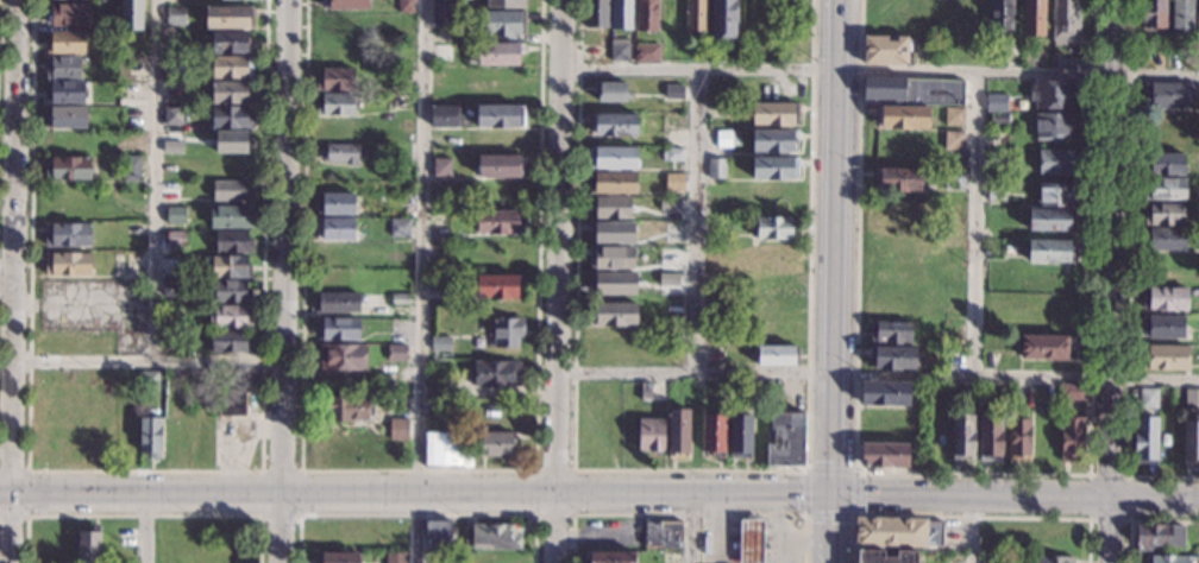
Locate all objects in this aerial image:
building: (108, 1)
building: (504, 4)
building: (344, 5)
building: (404, 6)
building: (68, 14)
building: (131, 14)
building: (441, 14)
building: (596, 14)
building: (621, 14)
building: (1000, 14)
building: (1153, 14)
building: (175, 15)
building: (646, 15)
building: (696, 15)
building: (228, 18)
building: (1032, 18)
building: (1181, 18)
building: (1198, 18)
building: (723, 19)
road: (836, 19)
building: (1063, 21)
building: (501, 23)
building: (338, 26)
building: (64, 43)
building: (232, 43)
building: (619, 50)
building: (884, 50)
building: (442, 52)
building: (498, 52)
building: (1011, 52)
building: (646, 53)
building: (717, 53)
building: (1062, 59)
building: (1085, 62)
building: (172, 65)
building: (62, 68)
building: (136, 68)
building: (232, 68)
road: (879, 71)
building: (335, 80)
building: (441, 81)
building: (498, 84)
building: (885, 88)
building: (132, 90)
building: (64, 93)
building: (231, 93)
building: (613, 93)
building: (672, 93)
building: (1054, 94)
building: (1168, 95)
building: (400, 100)
building: (994, 101)
building: (335, 103)
building: (774, 114)
building: (172, 115)
building: (65, 116)
building: (498, 116)
building: (954, 116)
building: (231, 118)
building: (445, 118)
building: (902, 118)
building: (998, 119)
building: (613, 125)
building: (1054, 126)
building: (335, 129)
building: (131, 138)
building: (999, 139)
building: (174, 140)
building: (773, 140)
building: (953, 140)
building: (716, 141)
building: (65, 143)
building: (230, 144)
building: (341, 153)
building: (673, 154)
building: (613, 158)
building: (1059, 162)
building: (1165, 164)
building: (498, 166)
building: (68, 167)
building: (441, 167)
building: (715, 167)
building: (774, 167)
building: (131, 169)
building: (897, 179)
building: (954, 179)
building: (674, 182)
building: (611, 183)
building: (1165, 189)
building: (170, 190)
building: (231, 191)
building: (996, 192)
building: (1057, 195)
building: (67, 201)
building: (335, 204)
building: (674, 205)
building: (609, 208)
building: (177, 214)
building: (1163, 214)
building: (107, 216)
building: (230, 217)
road: (834, 217)
building: (1050, 220)
road: (696, 221)
building: (500, 222)
road: (977, 223)
building: (398, 227)
building: (334, 228)
building: (776, 228)
building: (611, 233)
building: (68, 234)
building: (175, 238)
building: (1165, 238)
building: (232, 241)
road: (13, 248)
building: (1049, 251)
road: (155, 252)
building: (672, 255)
building: (772, 257)
building: (611, 258)
building: (68, 264)
building: (170, 264)
building: (230, 266)
road: (1129, 272)
building: (667, 279)
road: (284, 281)
road: (420, 281)
road: (558, 281)
road: (1112, 281)
building: (611, 284)
building: (498, 286)
building: (172, 287)
building: (231, 291)
building: (1165, 298)
building: (398, 299)
building: (338, 303)
building: (613, 314)
building: (230, 317)
building: (171, 321)
building: (1163, 328)
building: (338, 330)
building: (507, 331)
building: (891, 333)
building: (169, 341)
building: (230, 342)
building: (439, 343)
building: (1044, 347)
building: (396, 353)
building: (778, 354)
building: (1165, 358)
building: (343, 359)
building: (892, 359)
building: (495, 373)
road: (878, 373)
building: (149, 380)
building: (174, 386)
building: (646, 391)
building: (438, 392)
building: (752, 392)
building: (1072, 392)
building: (884, 393)
building: (1192, 398)
building: (1148, 399)
building: (232, 404)
building: (344, 409)
building: (398, 430)
building: (677, 431)
building: (714, 434)
building: (739, 435)
building: (150, 436)
building: (962, 436)
building: (990, 436)
building: (175, 438)
building: (651, 438)
building: (1072, 438)
building: (1144, 438)
building: (784, 439)
building: (1018, 439)
building: (1191, 439)
road: (831, 443)
building: (496, 444)
building: (445, 450)
building: (917, 453)
building: (883, 455)
road: (805, 467)
road: (689, 469)
road: (143, 470)
road: (418, 470)
road: (974, 470)
road: (1128, 473)
traffic signals: (830, 492)
road: (27, 494)
road: (599, 494)
road: (689, 513)
road: (968, 513)
road: (259, 514)
road: (418, 514)
road: (572, 514)
road: (144, 517)
road: (1141, 518)
road: (830, 525)
road: (695, 527)
road: (8, 530)
road: (144, 530)
road: (972, 530)
building: (898, 531)
building: (438, 534)
building: (663, 536)
building: (491, 537)
building: (1156, 538)
building: (751, 542)
building: (88, 546)
building: (338, 556)
building: (609, 556)
building: (884, 557)
building: (395, 558)
road: (799, 558)
building: (990, 558)
building: (1049, 559)
building: (1170, 559)
road: (829, 561)

